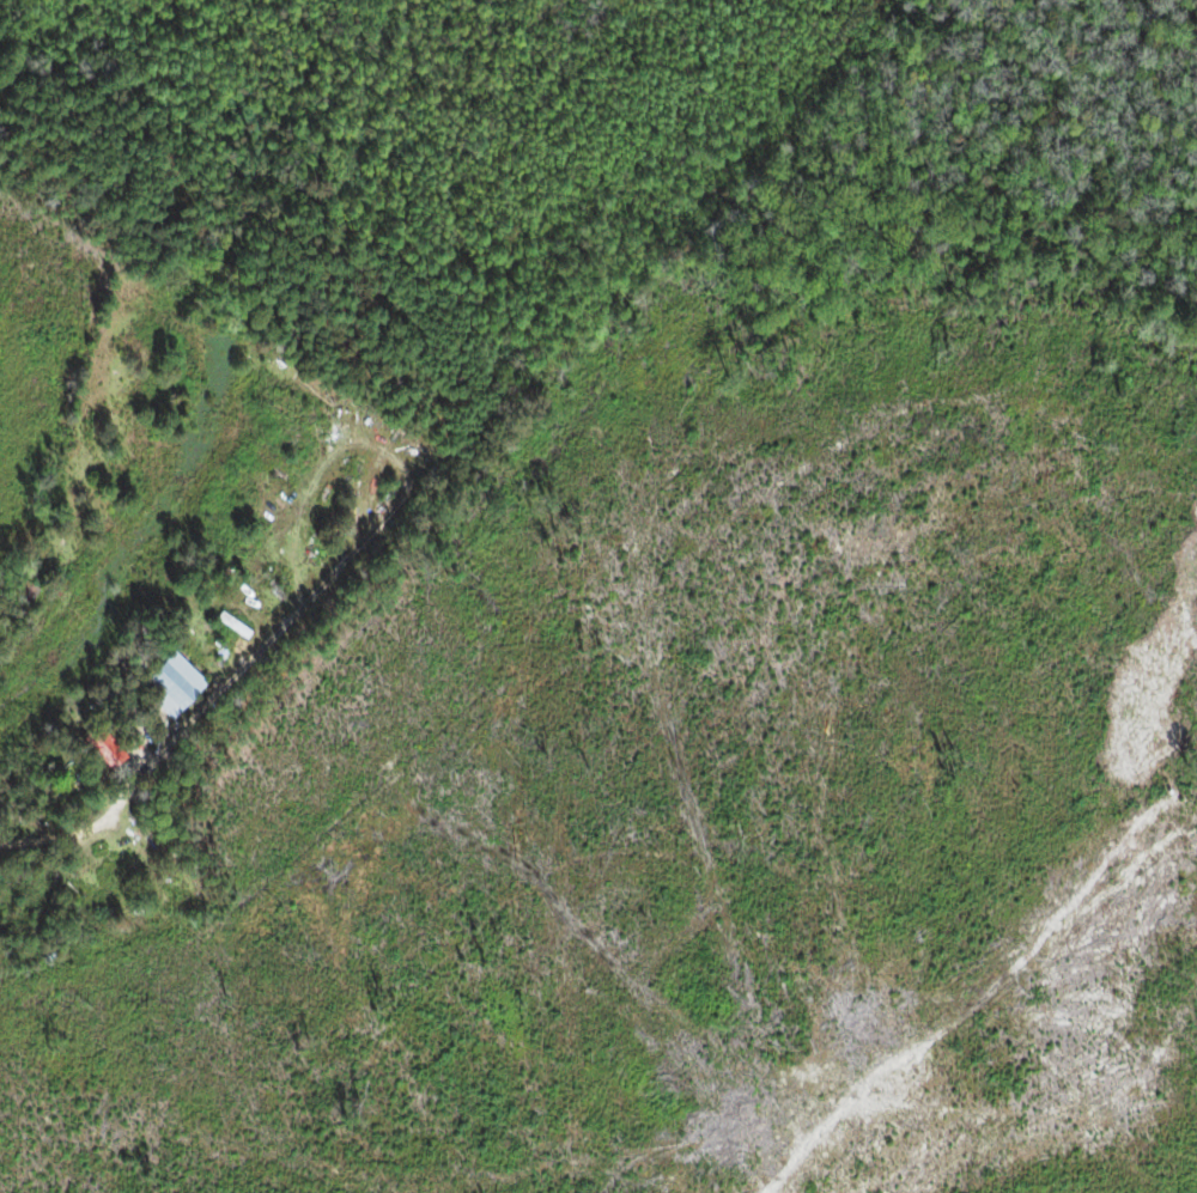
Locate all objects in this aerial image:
building: (170, 684)
building: (102, 748)

